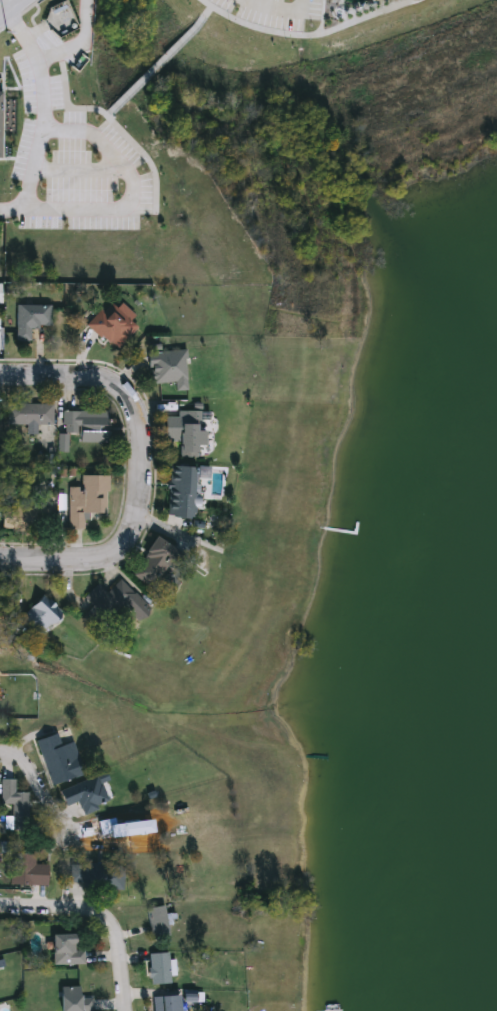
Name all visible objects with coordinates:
road: (7, 5)
road: (288, 8)
road: (310, 33)
road: (80, 42)
road: (158, 55)
building: (0, 113)
road: (46, 115)
road: (131, 141)
road: (79, 170)
road: (137, 198)
building: (29, 320)
building: (112, 325)
building: (0, 340)
building: (167, 369)
building: (30, 415)
building: (85, 426)
building: (184, 432)
road: (139, 468)
building: (177, 488)
building: (86, 501)
building: (29, 518)
building: (151, 564)
building: (107, 600)
building: (40, 616)
building: (58, 759)
road: (39, 783)
building: (84, 795)
building: (16, 808)
building: (102, 827)
building: (27, 871)
building: (95, 876)
road: (95, 918)
building: (155, 924)
building: (64, 951)
building: (158, 969)
building: (72, 1000)
building: (165, 1003)

